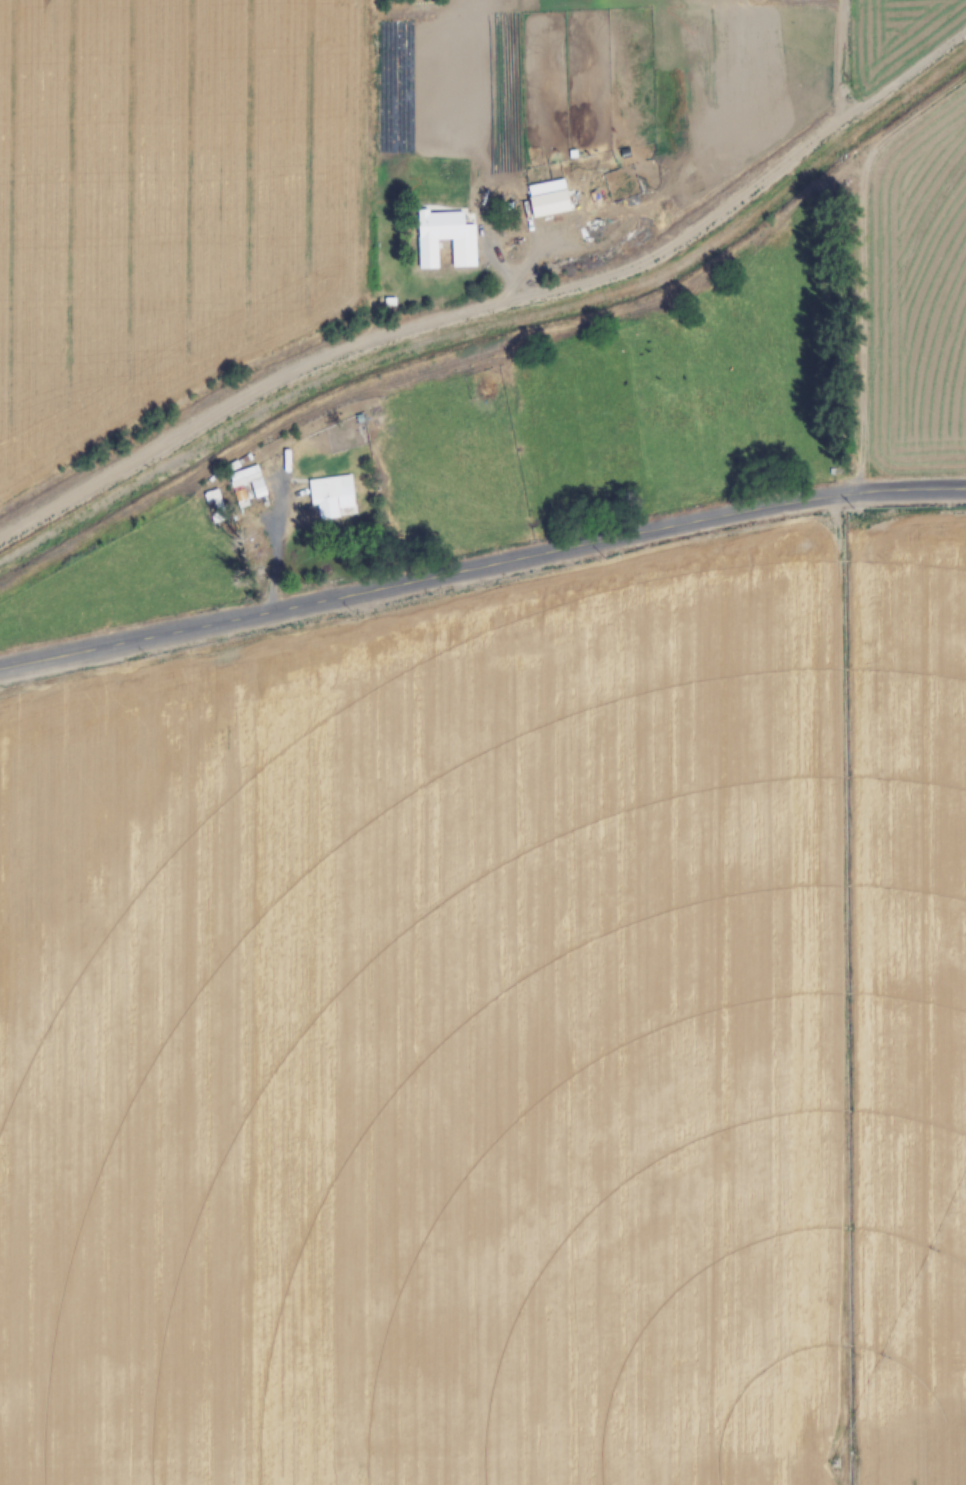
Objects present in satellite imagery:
building: (455, 239)
building: (389, 307)
road: (507, 308)
building: (247, 485)
building: (325, 495)
building: (214, 506)
road: (481, 569)

